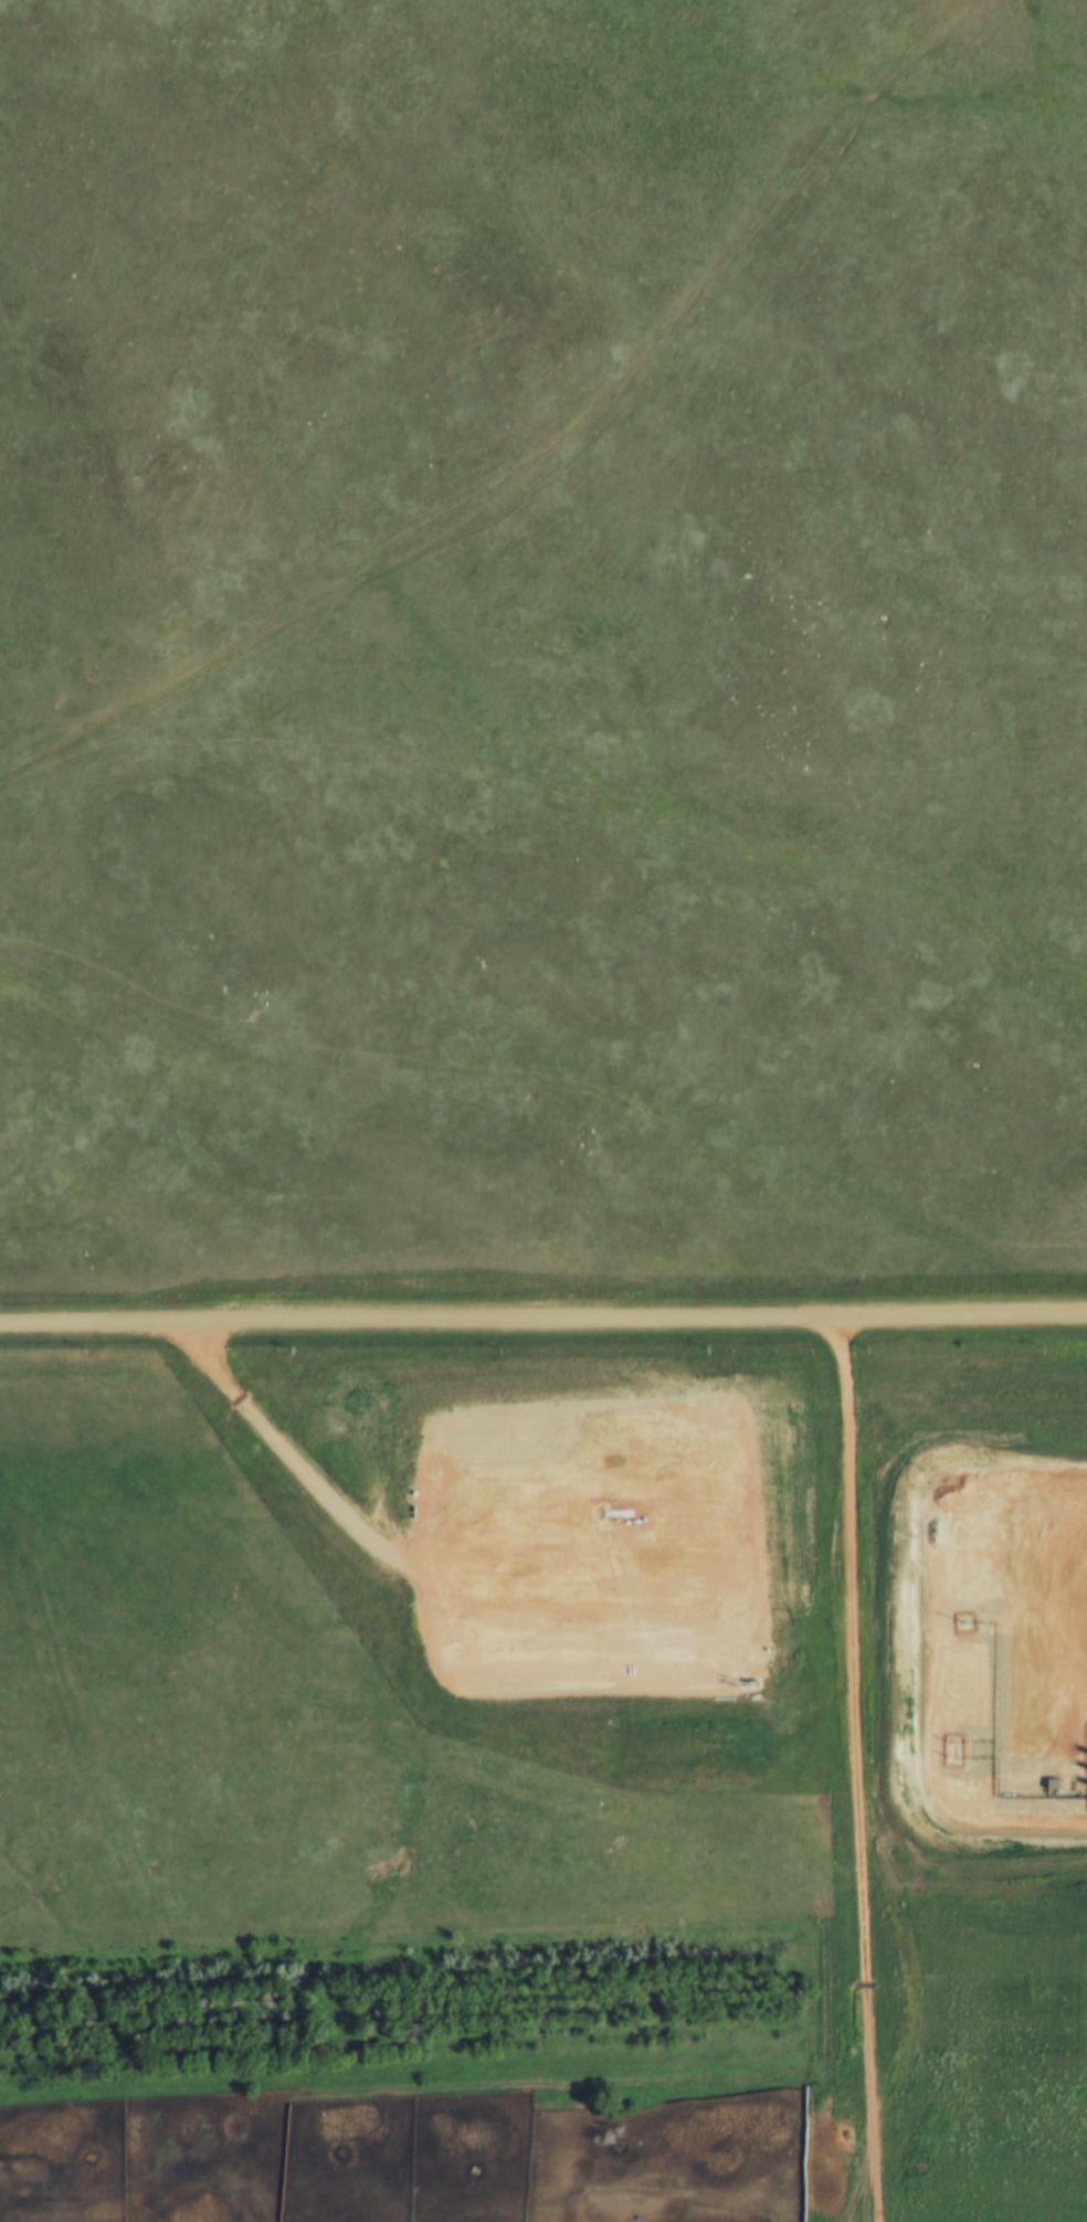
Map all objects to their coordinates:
road: (83, 1315)
road: (843, 1538)

